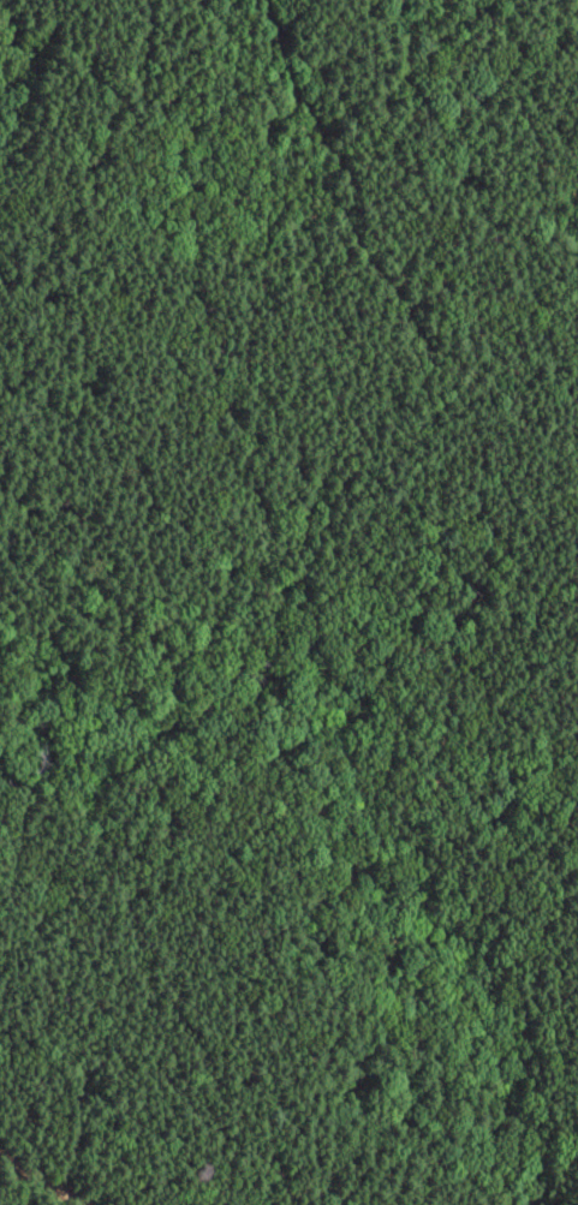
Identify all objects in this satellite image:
road: (7, 1200)

